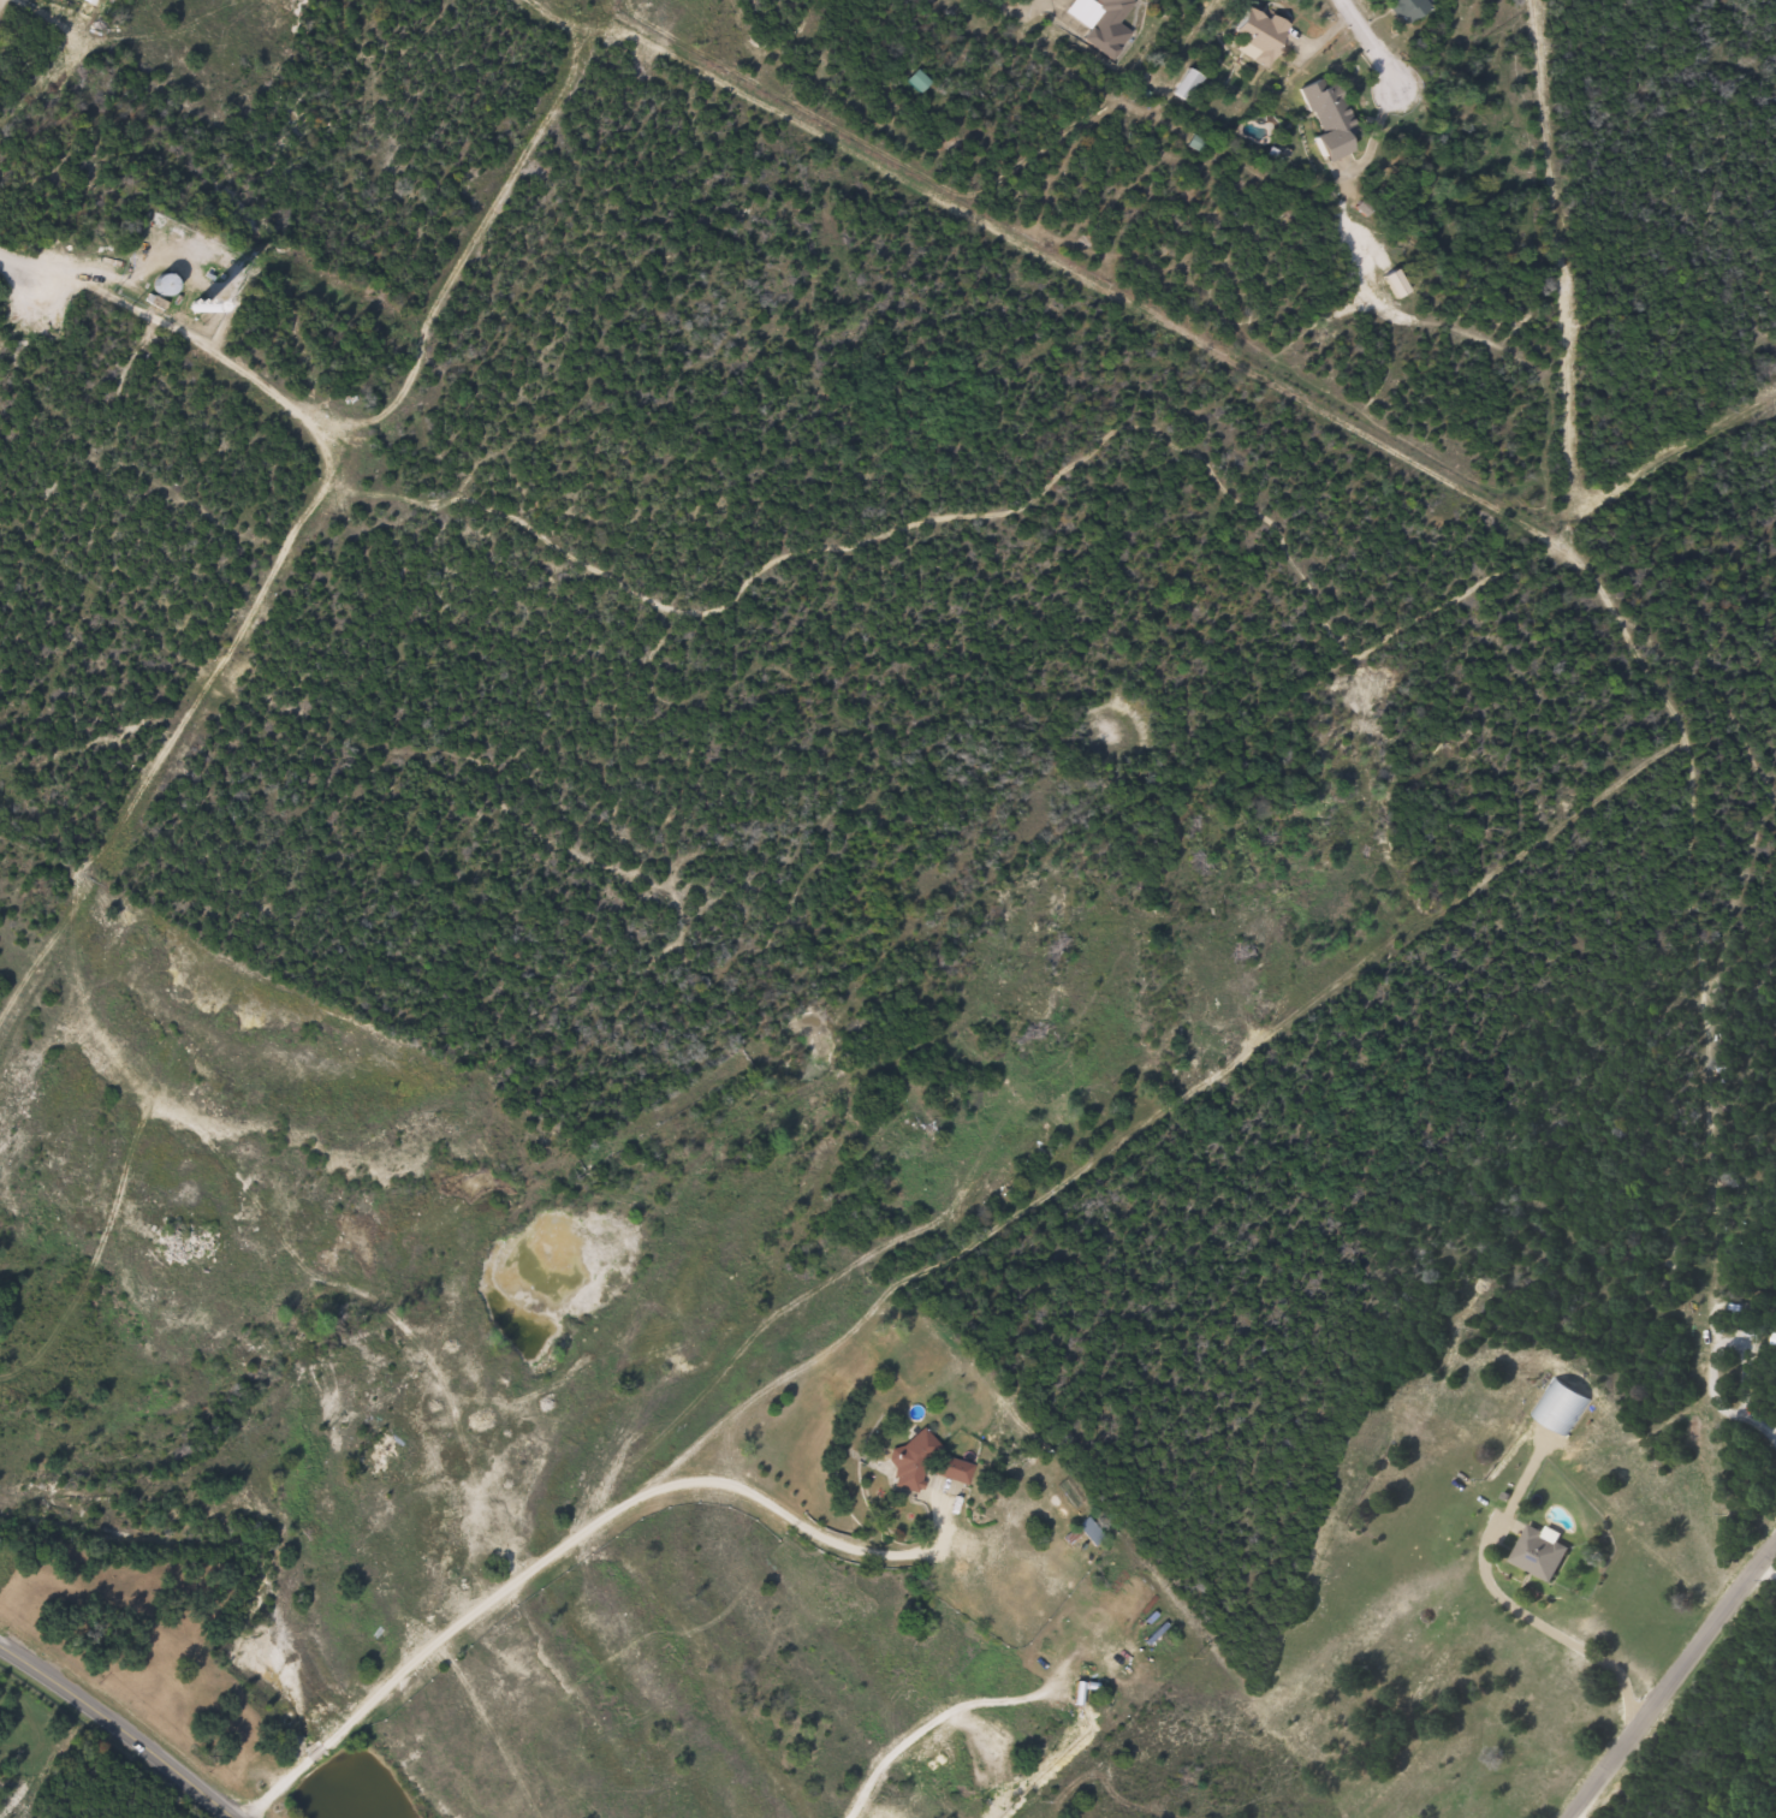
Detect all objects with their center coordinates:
building: (81, 0)
road: (996, 6)
building: (1403, 8)
building: (1101, 24)
building: (1255, 34)
road: (1371, 46)
building: (1183, 85)
building: (1323, 118)
road: (13, 257)
road: (1562, 261)
building: (155, 285)
road: (1486, 590)
road: (1628, 778)
building: (935, 1137)
building: (1037, 1139)
road: (1716, 1342)
building: (1770, 1343)
road: (1759, 1426)
road: (1775, 1433)
building: (374, 1457)
building: (908, 1462)
building: (951, 1471)
road: (570, 1538)
building: (1536, 1555)
road: (1766, 1572)
road: (1543, 1626)
road: (1668, 1680)
road: (118, 1725)

